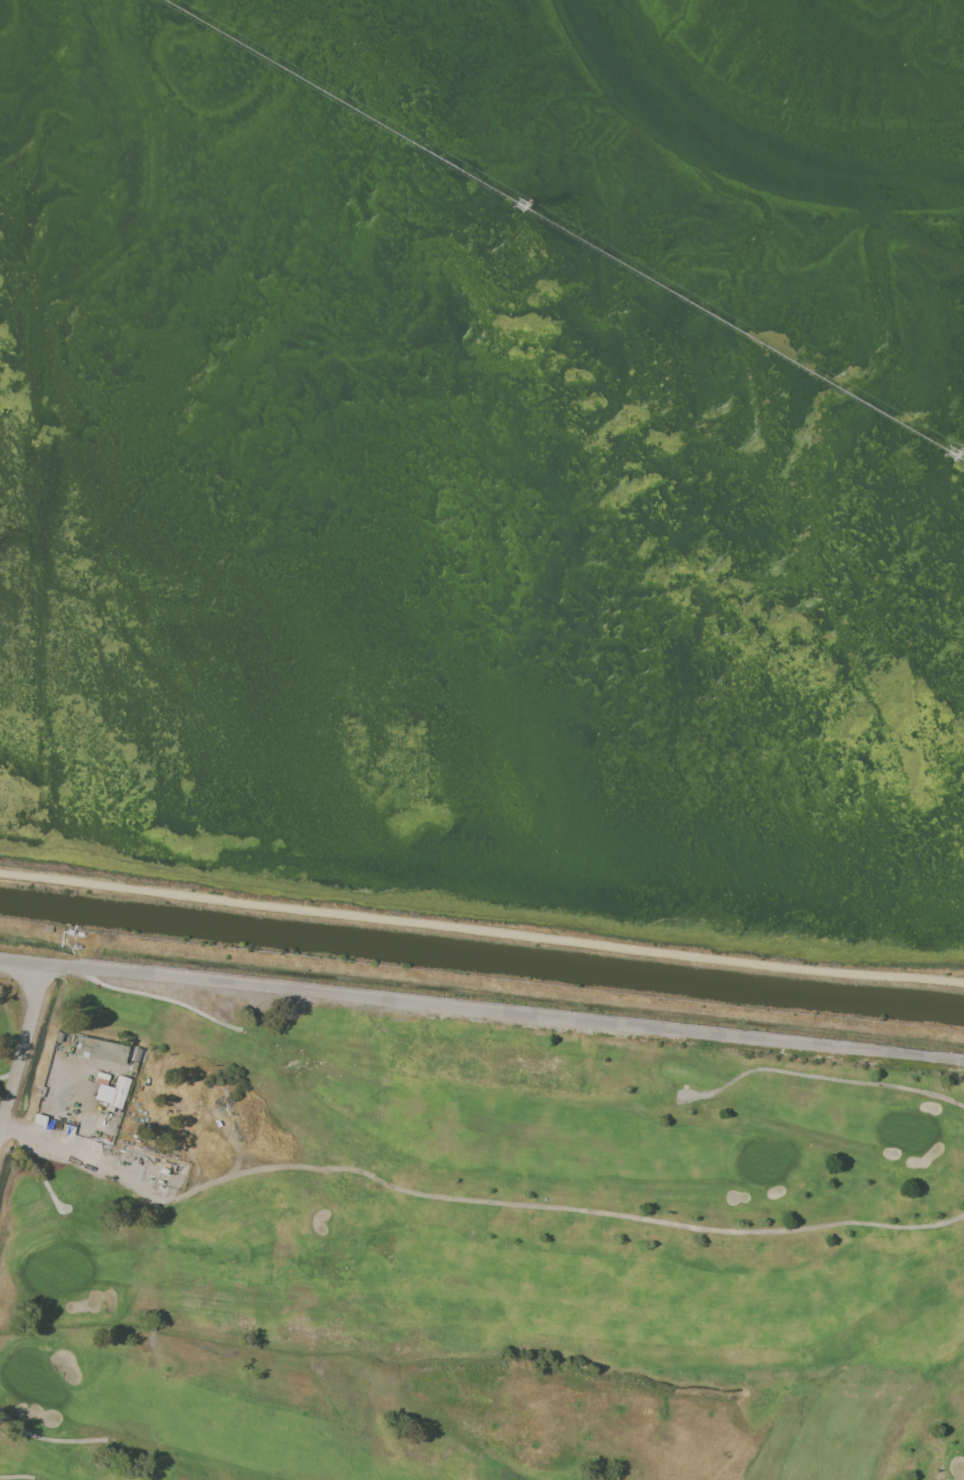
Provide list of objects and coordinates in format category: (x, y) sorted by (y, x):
power tower: (523, 209)
pier: (563, 229)
power tower: (952, 455)
road: (481, 933)
road: (482, 1010)
road: (23, 1050)
building: (99, 1050)
building: (112, 1092)
park: (464, 1248)

